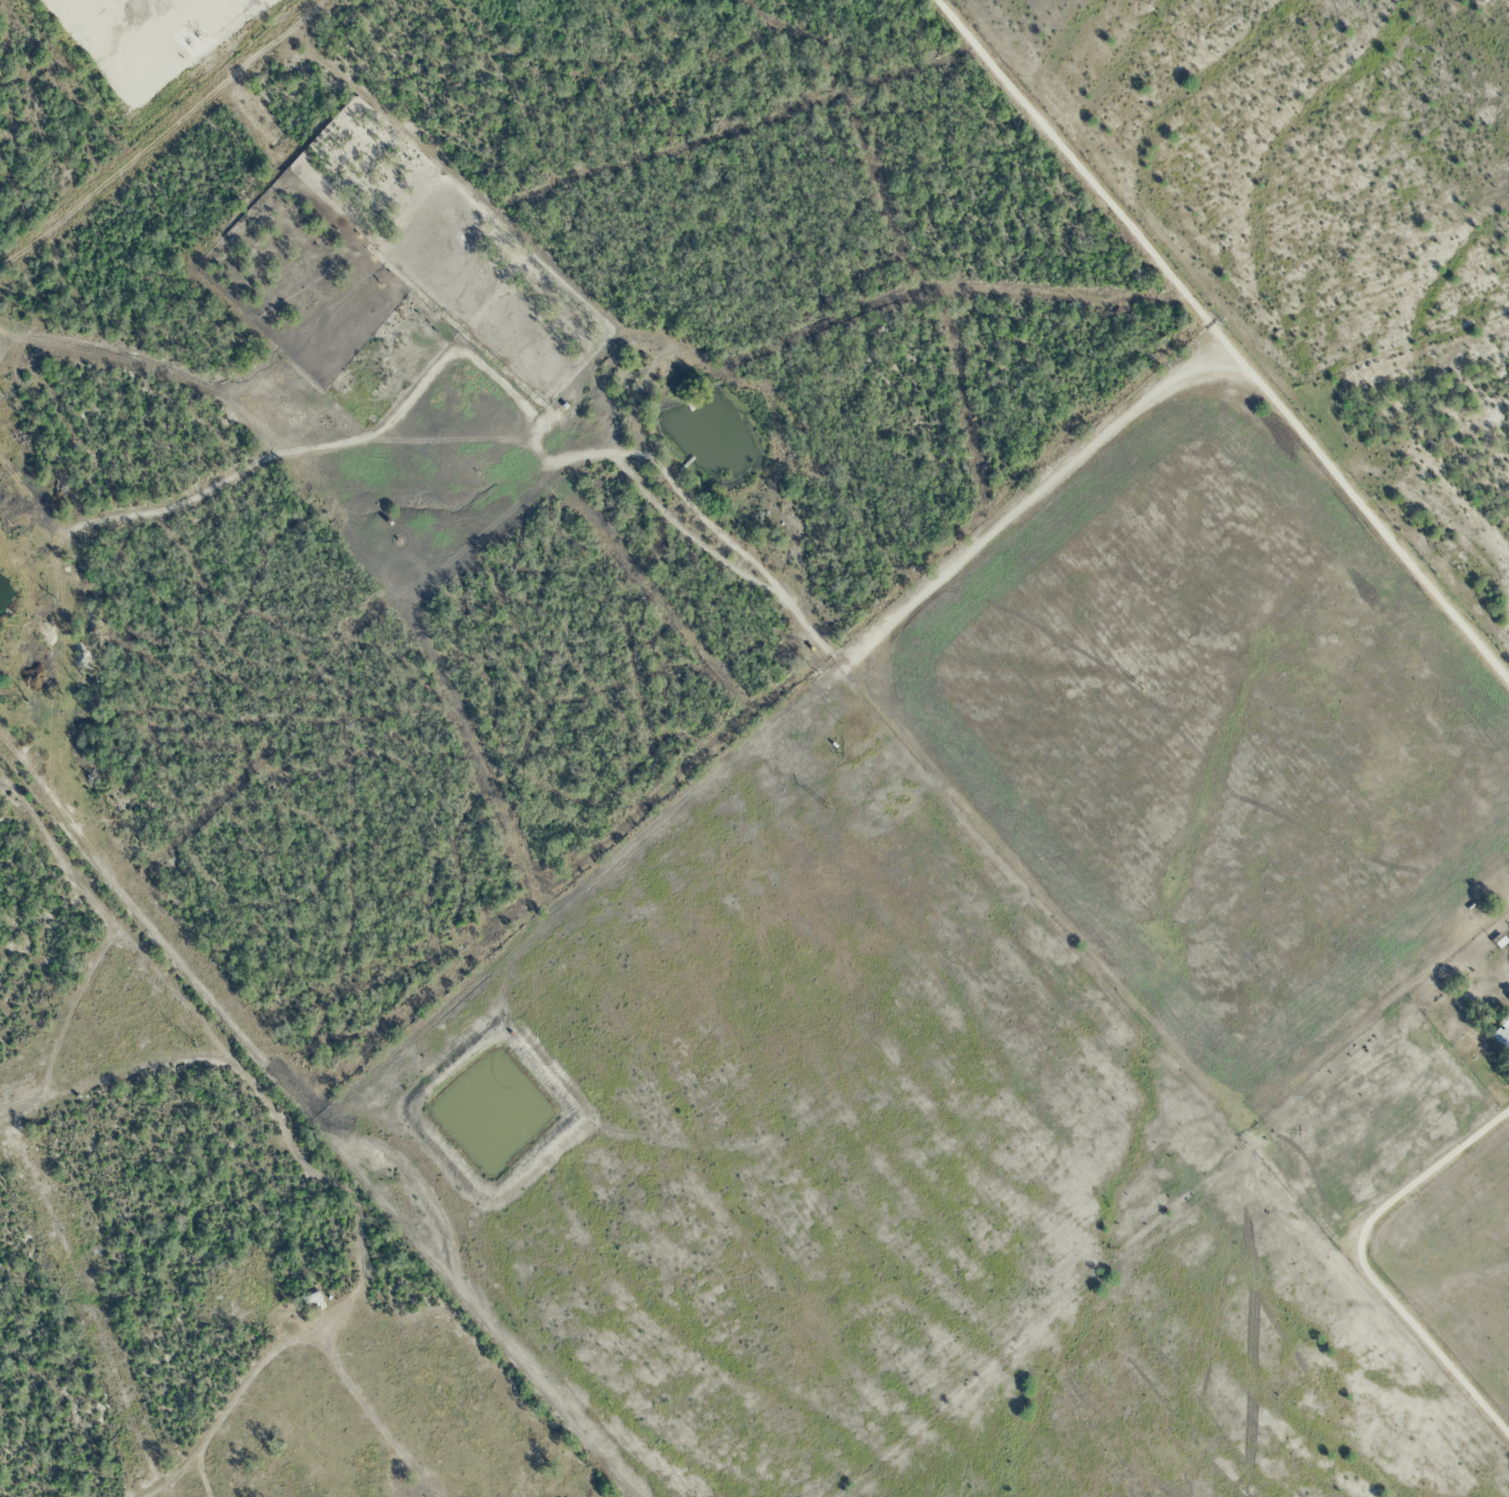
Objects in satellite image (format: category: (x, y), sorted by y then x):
road: (109, 1)
road: (1222, 338)
power tower: (1456, 565)
road: (873, 638)
power tower: (1139, 684)
power tower: (826, 802)
power tower: (507, 923)
building: (1502, 1036)
power tower: (192, 1042)
road: (1363, 1258)
building: (311, 1300)

